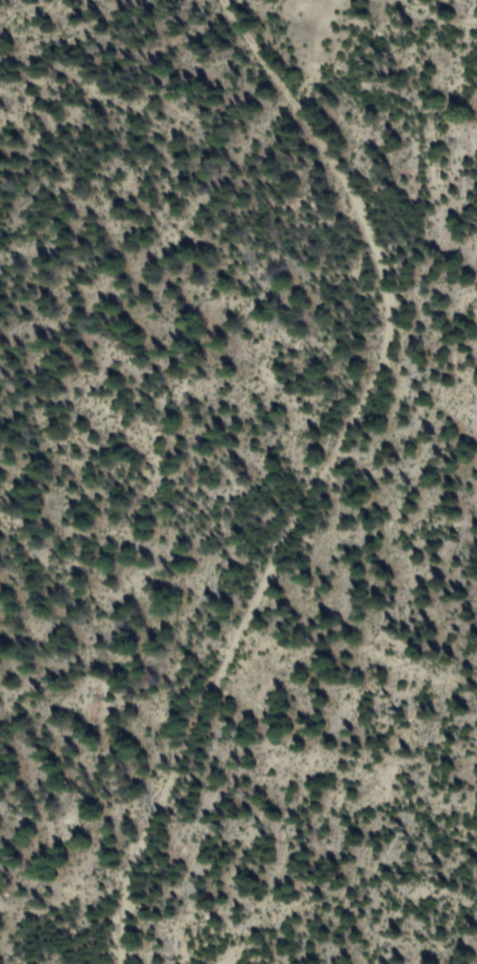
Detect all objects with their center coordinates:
road: (345, 464)

